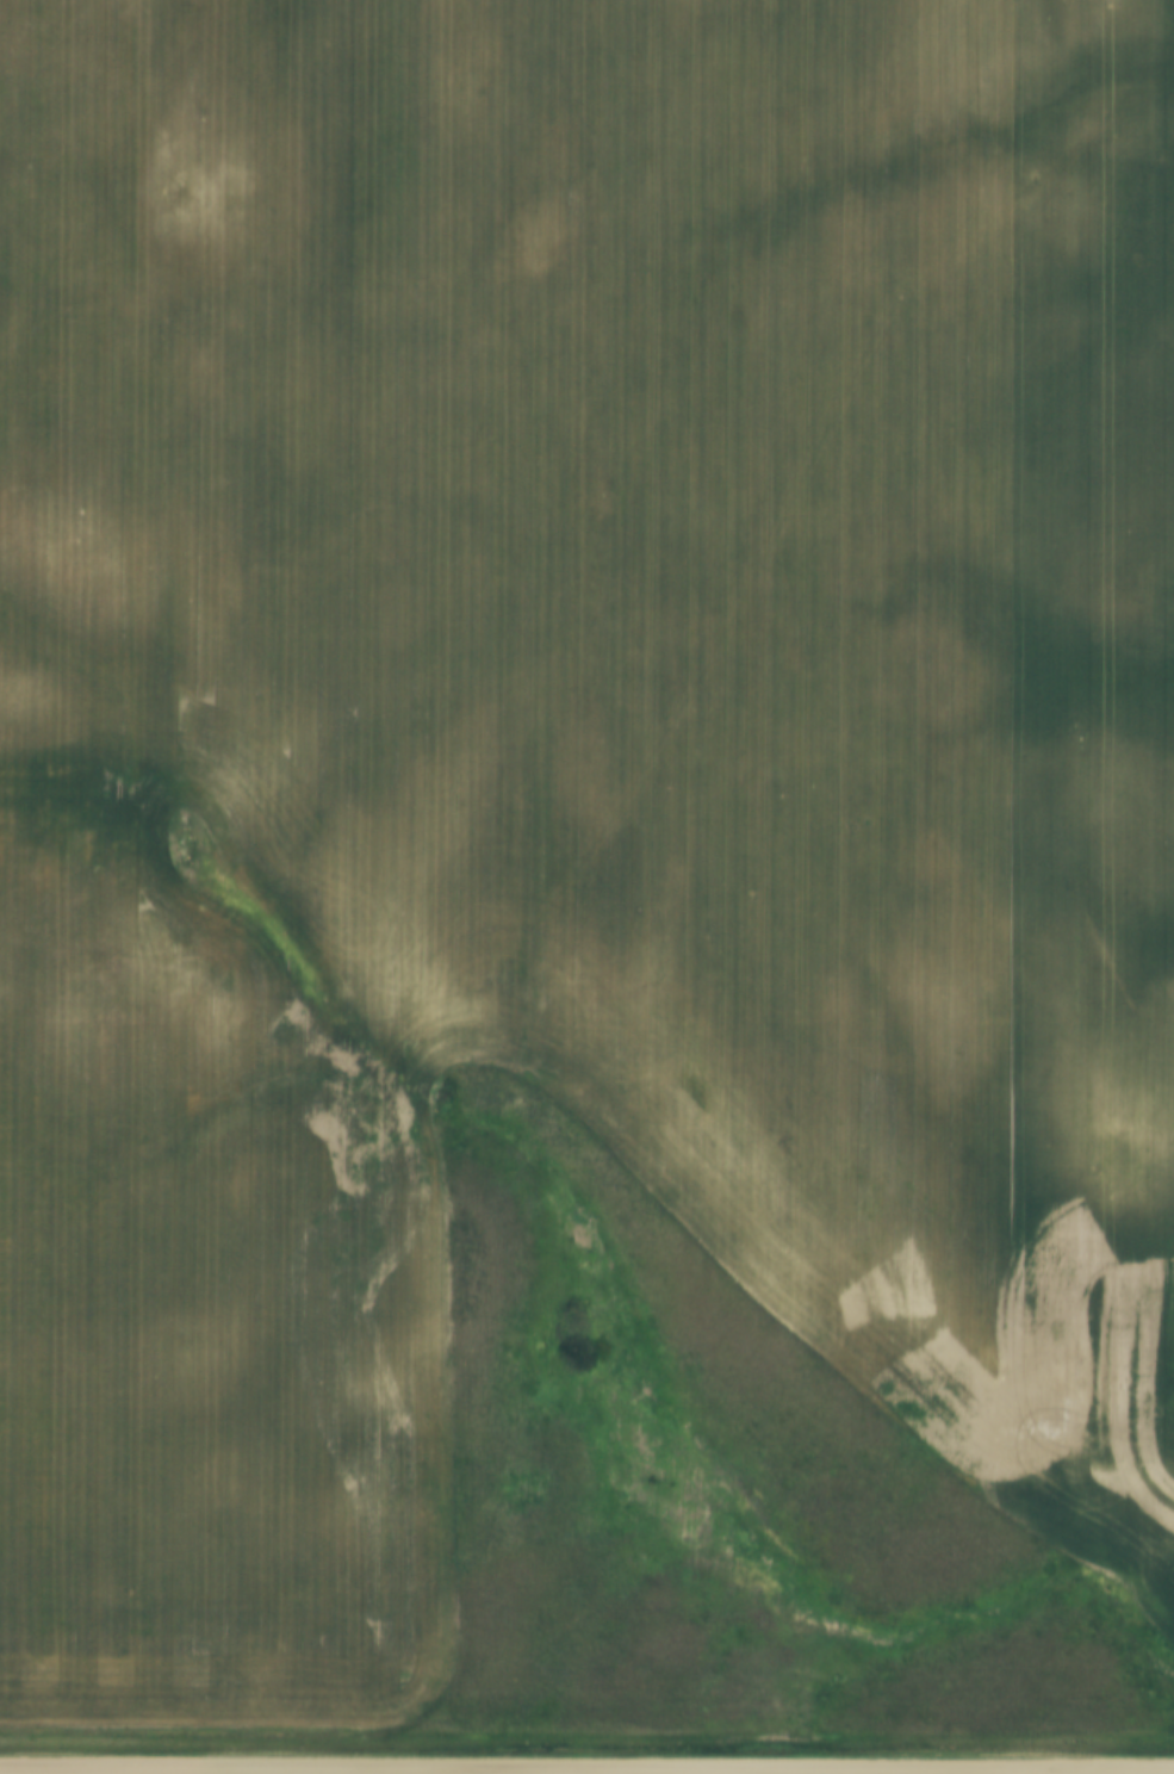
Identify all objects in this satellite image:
road: (586, 1772)

